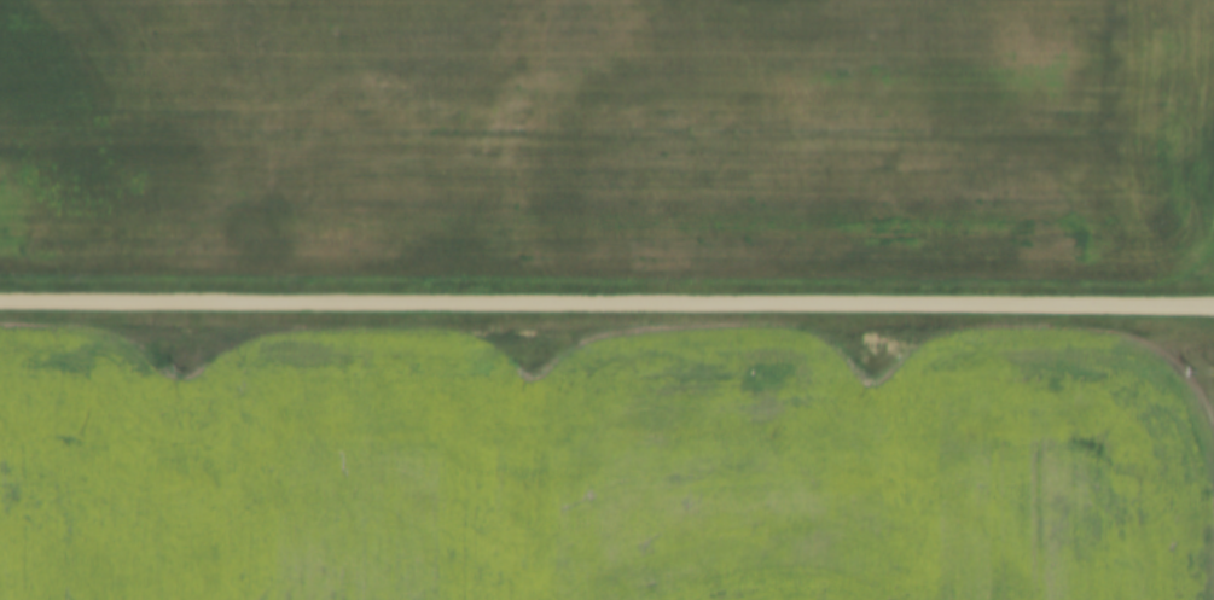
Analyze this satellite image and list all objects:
road: (606, 304)

